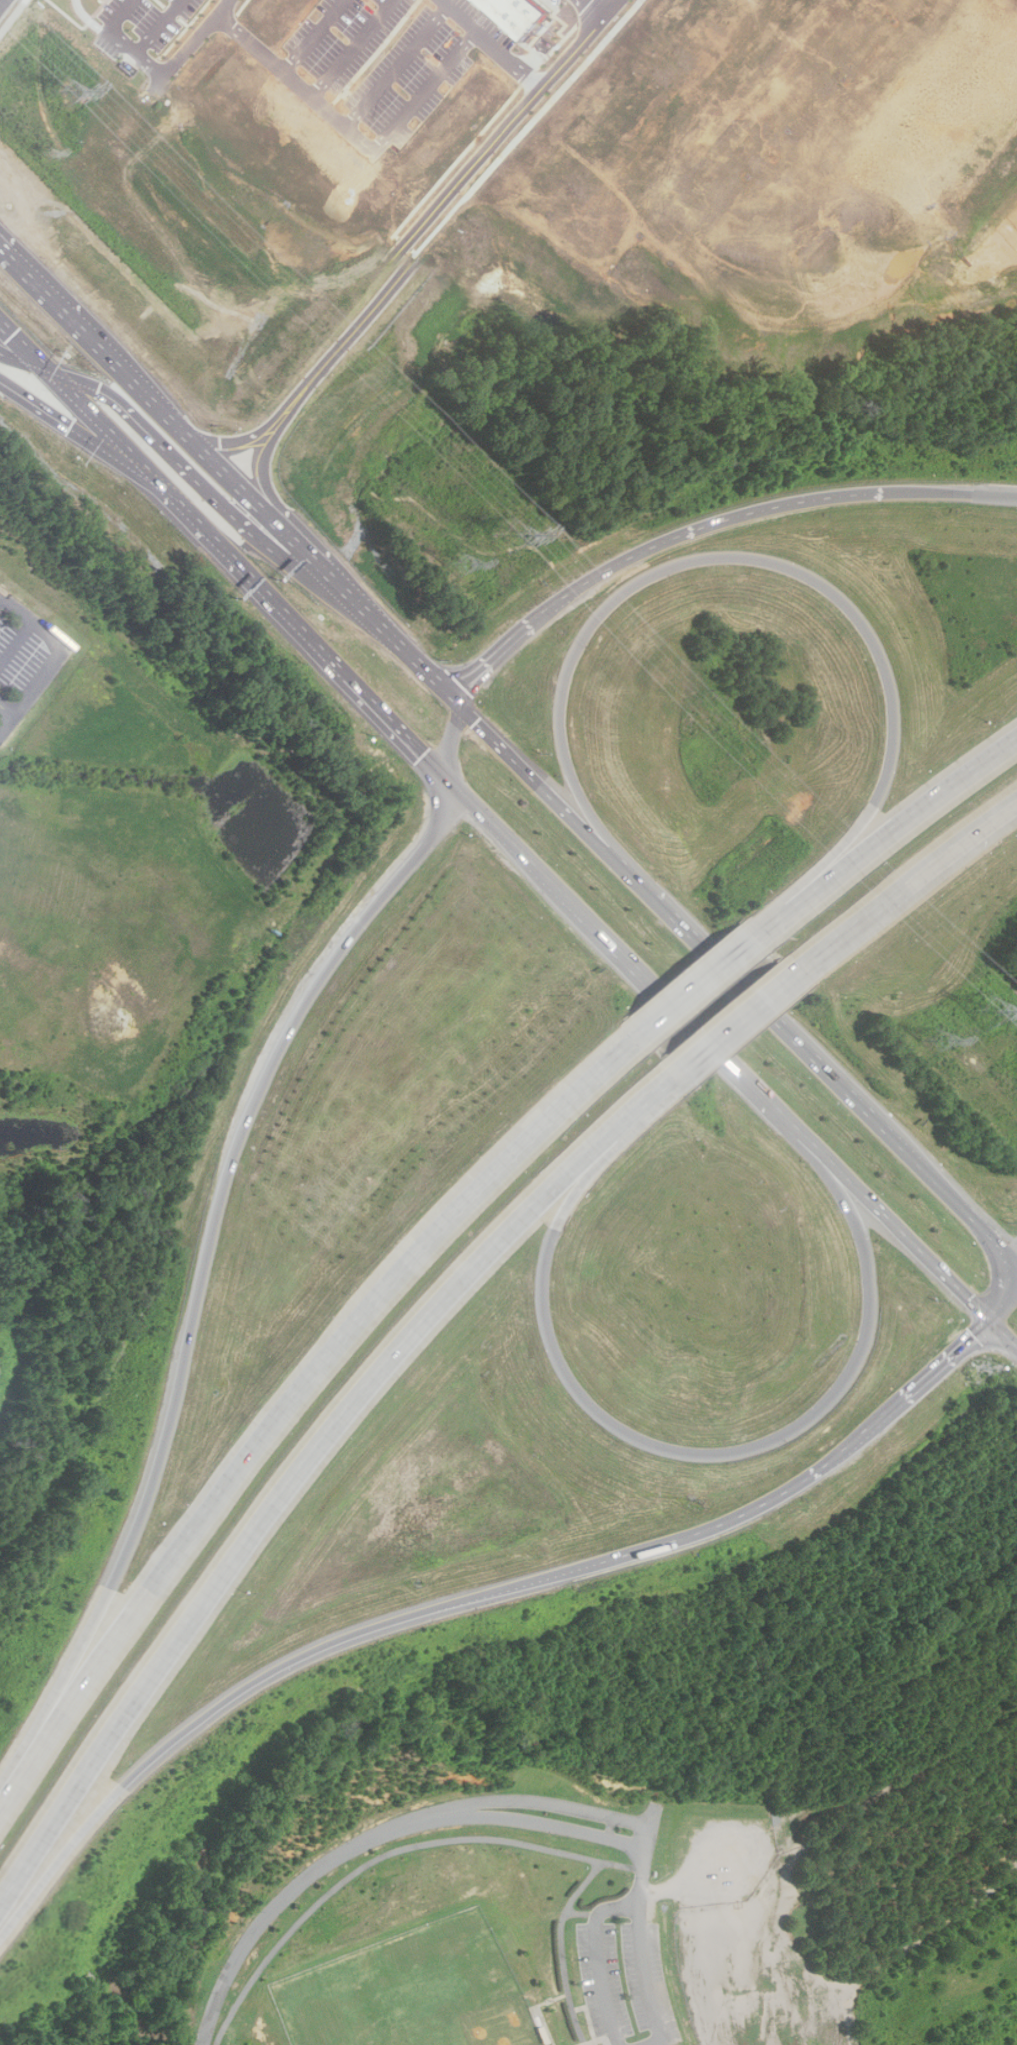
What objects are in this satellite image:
road: (3, 3)
road: (612, 3)
road: (591, 9)
building: (530, 16)
road: (91, 19)
road: (162, 26)
road: (315, 37)
road: (124, 39)
road: (495, 43)
road: (190, 48)
road: (357, 50)
road: (401, 68)
road: (298, 86)
road: (430, 93)
power tower: (69, 96)
power tower: (50, 155)
road: (446, 208)
road: (28, 350)
road: (27, 371)
traffic signals: (53, 375)
road: (141, 385)
traffic signals: (97, 389)
traffic signals: (84, 436)
road: (240, 438)
road: (119, 465)
road: (144, 468)
road: (260, 474)
road: (212, 490)
road: (966, 494)
road: (746, 513)
power tower: (512, 534)
road: (756, 560)
power tower: (458, 563)
road: (1, 598)
road: (355, 600)
road: (540, 615)
road: (17, 642)
road: (57, 654)
road: (339, 665)
road: (463, 673)
traffic signals: (452, 676)
road: (477, 680)
road: (444, 691)
traffic signals: (469, 693)
road: (5, 705)
traffic signals: (476, 722)
road: (451, 740)
traffic signals: (425, 754)
road: (556, 802)
road: (499, 827)
road: (885, 832)
road: (904, 881)
road: (699, 984)
road: (677, 1006)
power tower: (989, 1010)
road: (769, 1016)
road: (734, 1021)
power tower: (934, 1039)
road: (953, 1200)
road: (895, 1225)
road: (204, 1258)
road: (1006, 1298)
traffic signals: (969, 1299)
road: (1003, 1334)
traffic signals: (973, 1335)
road: (947, 1358)
road: (294, 1393)
road: (865, 1434)
road: (667, 1448)
road: (307, 1455)
road: (701, 1530)
road: (512, 1584)
road: (194, 1713)
road: (517, 1796)
road: (917, 1809)
road: (517, 1817)
park: (678, 1829)
road: (389, 1855)
parking lot: (727, 1859)
road: (581, 1912)
road: (272, 1916)
road: (643, 1931)
road: (565, 1948)
road: (602, 1958)
parking lot: (649, 1981)
road: (557, 2000)
road: (550, 2025)
road: (601, 2041)
road: (654, 2041)
road: (596, 2044)

